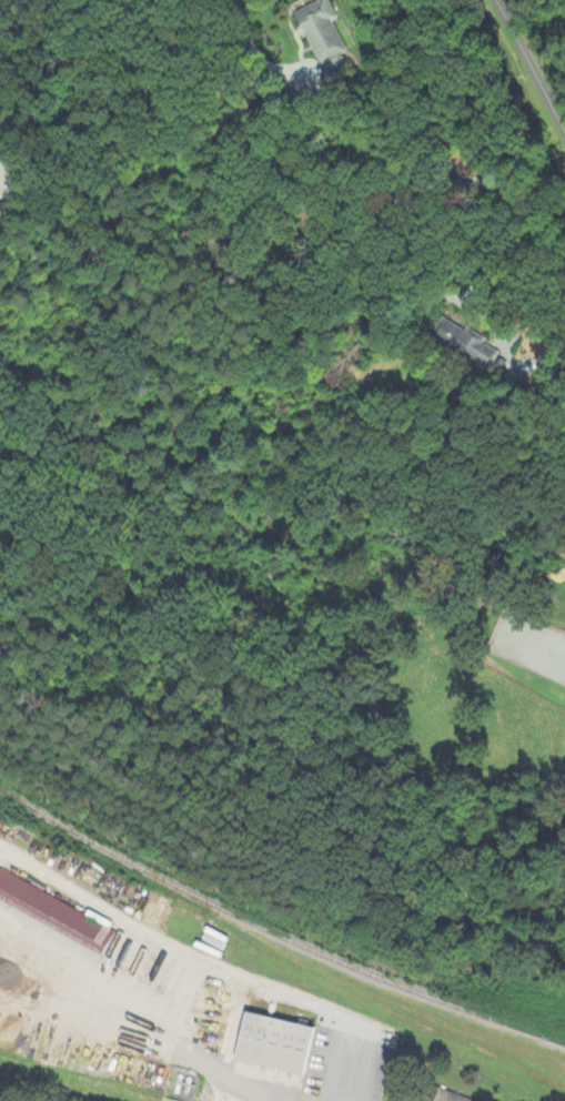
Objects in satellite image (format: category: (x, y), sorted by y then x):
building: (321, 33)
road: (251, 49)
road: (526, 73)
road: (186, 148)
road: (402, 200)
building: (3, 211)
building: (463, 344)
building: (59, 913)
railway: (274, 935)
road: (218, 969)
road: (134, 1012)
building: (278, 1044)
road: (334, 1057)
building: (451, 1097)

